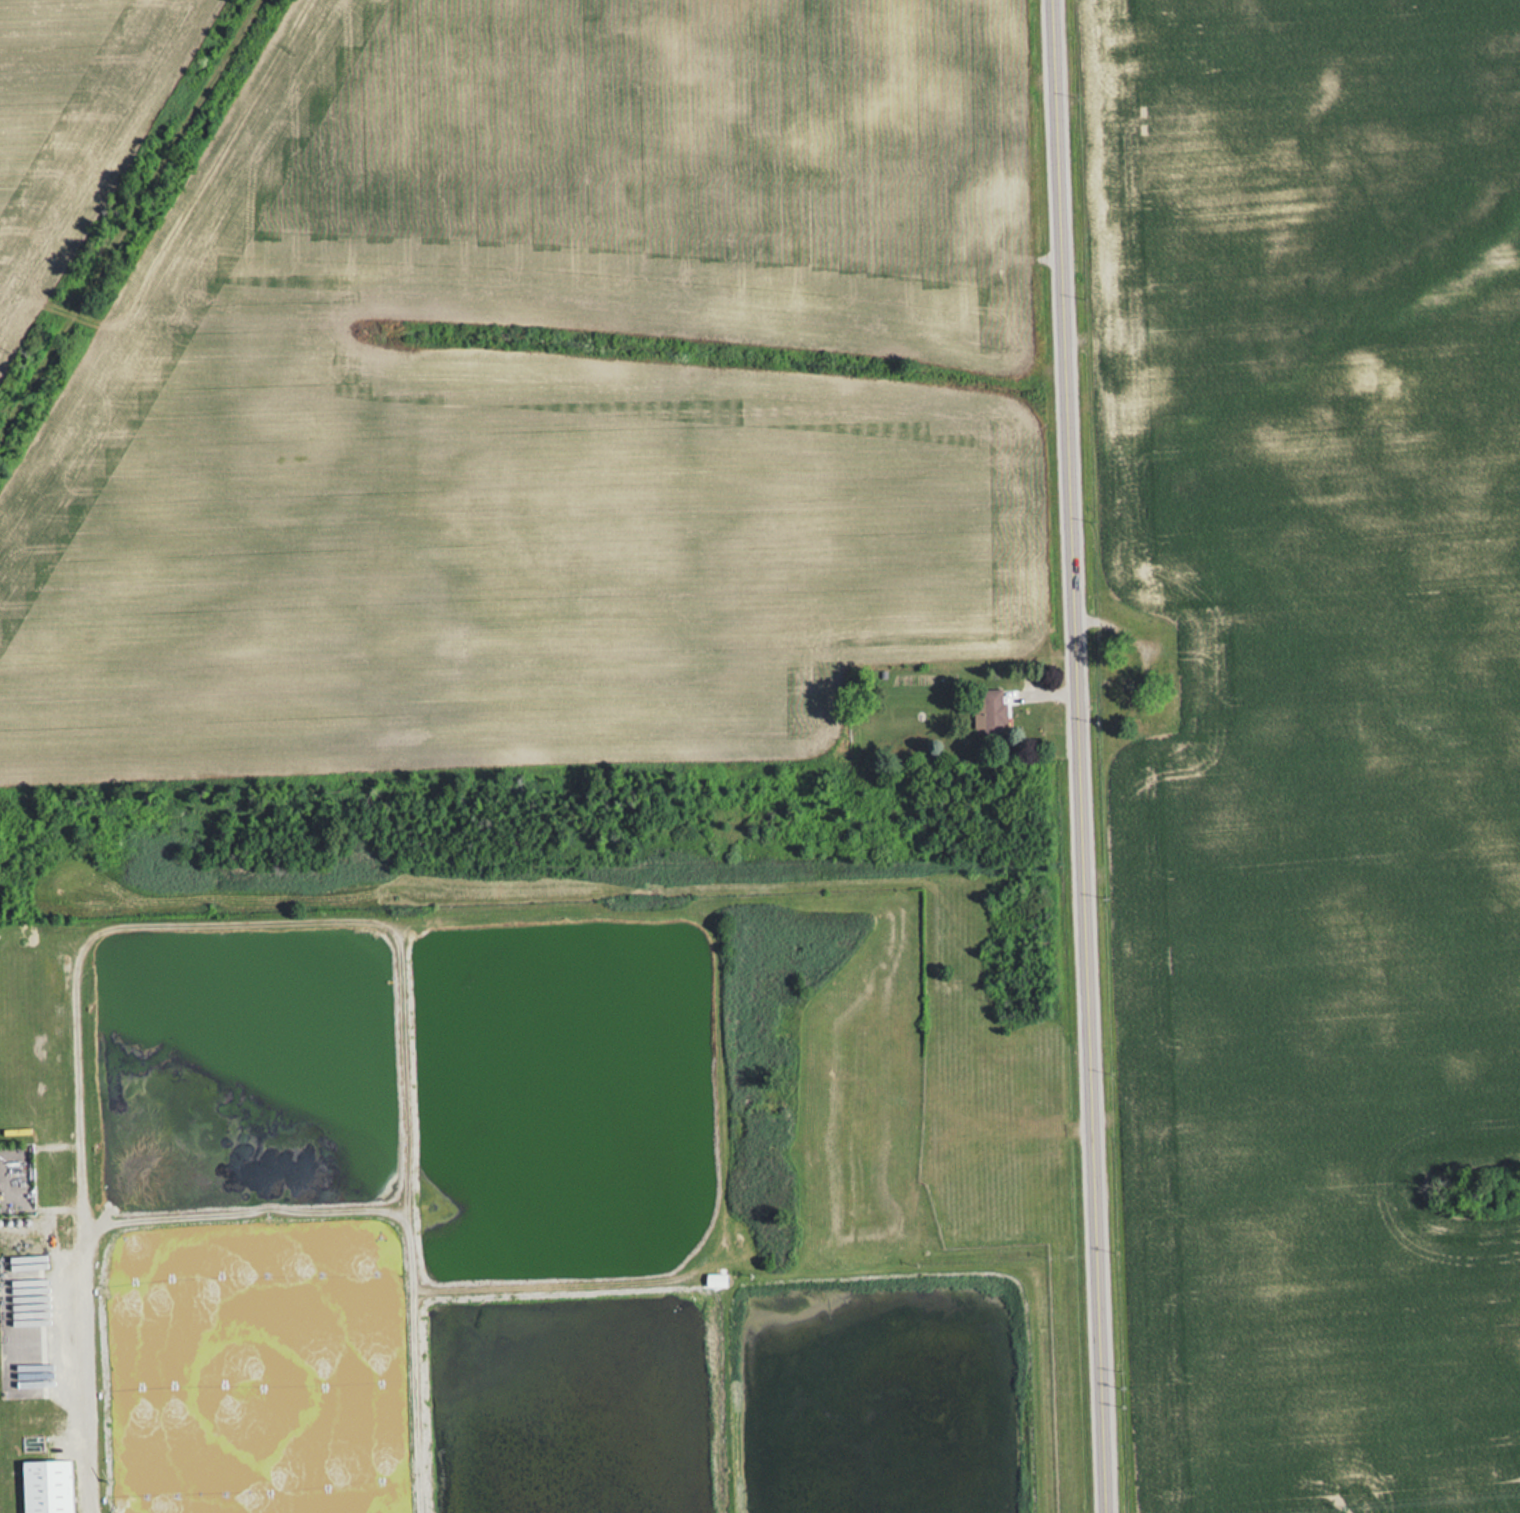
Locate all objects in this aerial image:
road: (129, 219)
building: (1128, 692)
building: (991, 710)
building: (851, 732)
road: (1080, 756)
building: (714, 1279)
building: (46, 1486)

